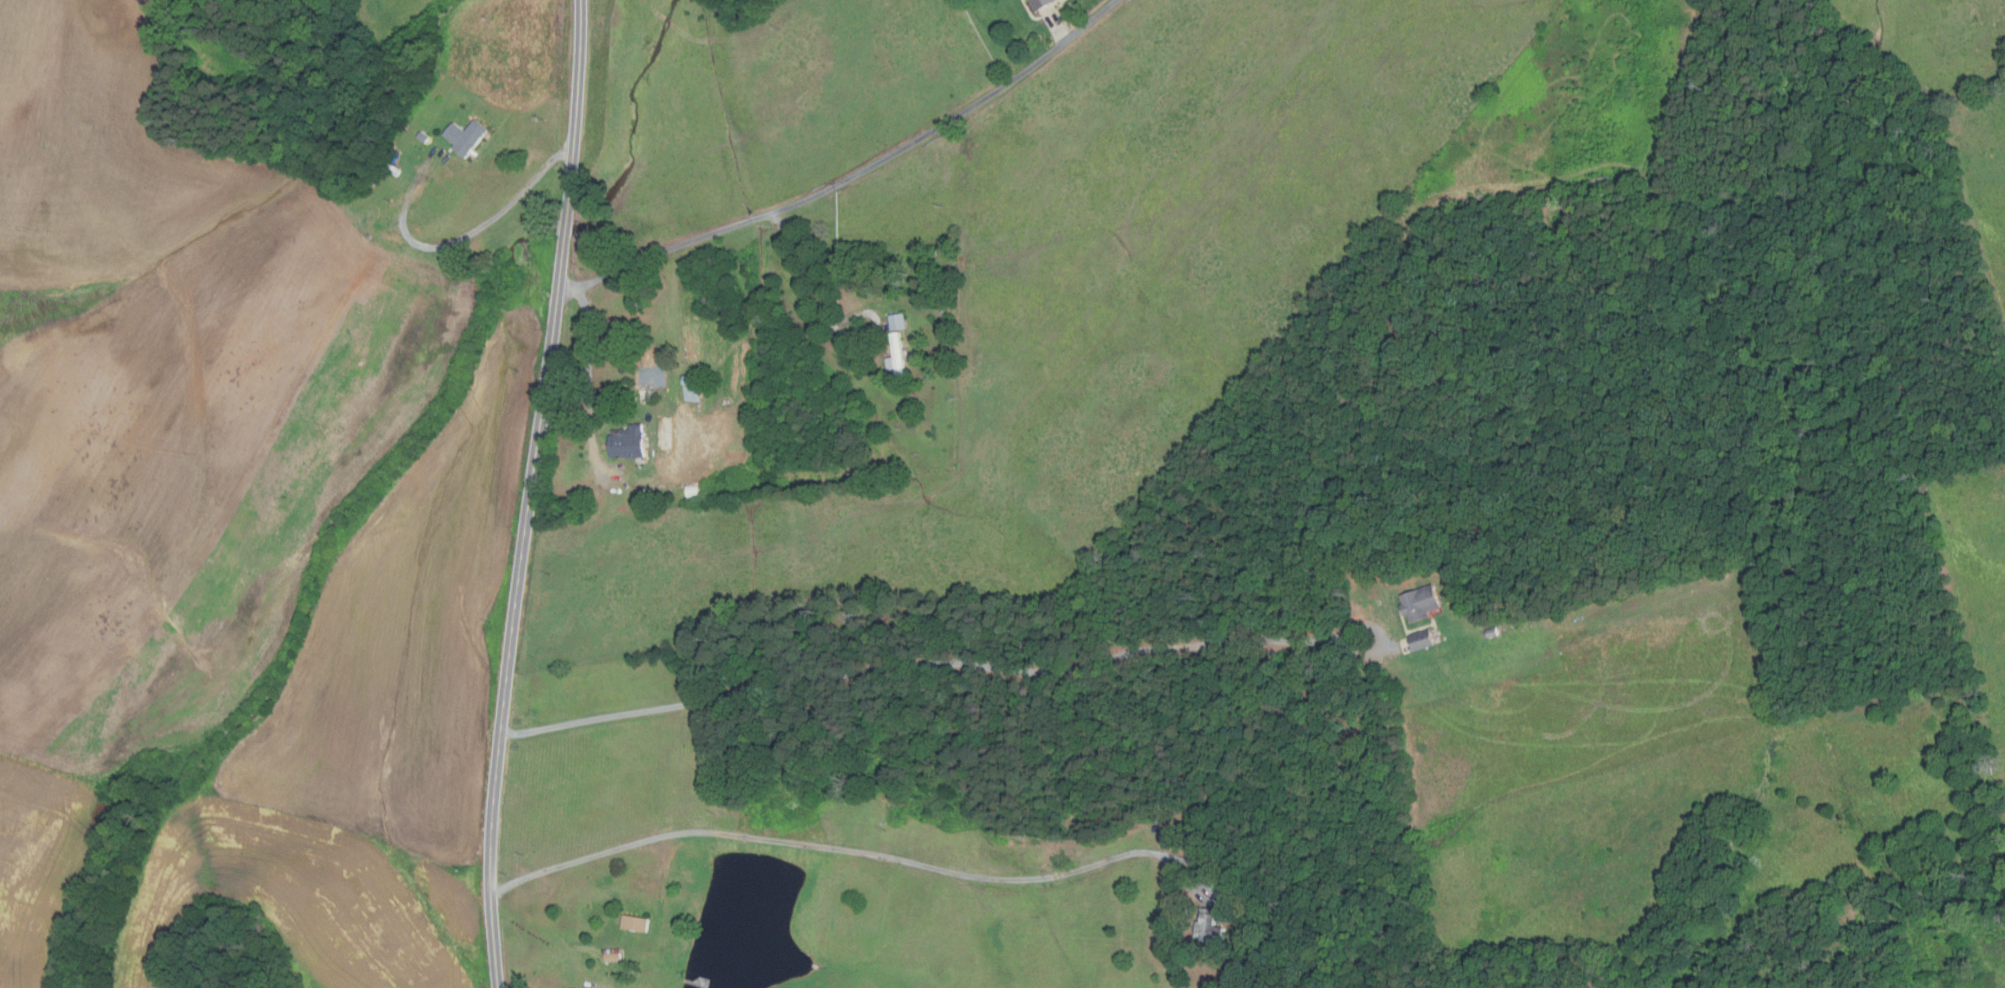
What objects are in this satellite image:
building: (1040, 4)
road: (1060, 26)
road: (578, 111)
building: (426, 136)
building: (469, 136)
building: (394, 157)
building: (394, 168)
road: (850, 175)
building: (445, 195)
road: (566, 230)
road: (461, 241)
building: (947, 280)
building: (897, 320)
building: (895, 357)
road: (590, 386)
building: (692, 387)
building: (627, 442)
crop: (242, 469)
building: (691, 492)
building: (1419, 601)
road: (515, 612)
building: (1492, 632)
building: (1422, 640)
road: (931, 665)
crop: (597, 689)
road: (841, 849)
crop: (41, 866)
crop: (280, 899)
building: (636, 924)
building: (1210, 926)
building: (614, 955)

